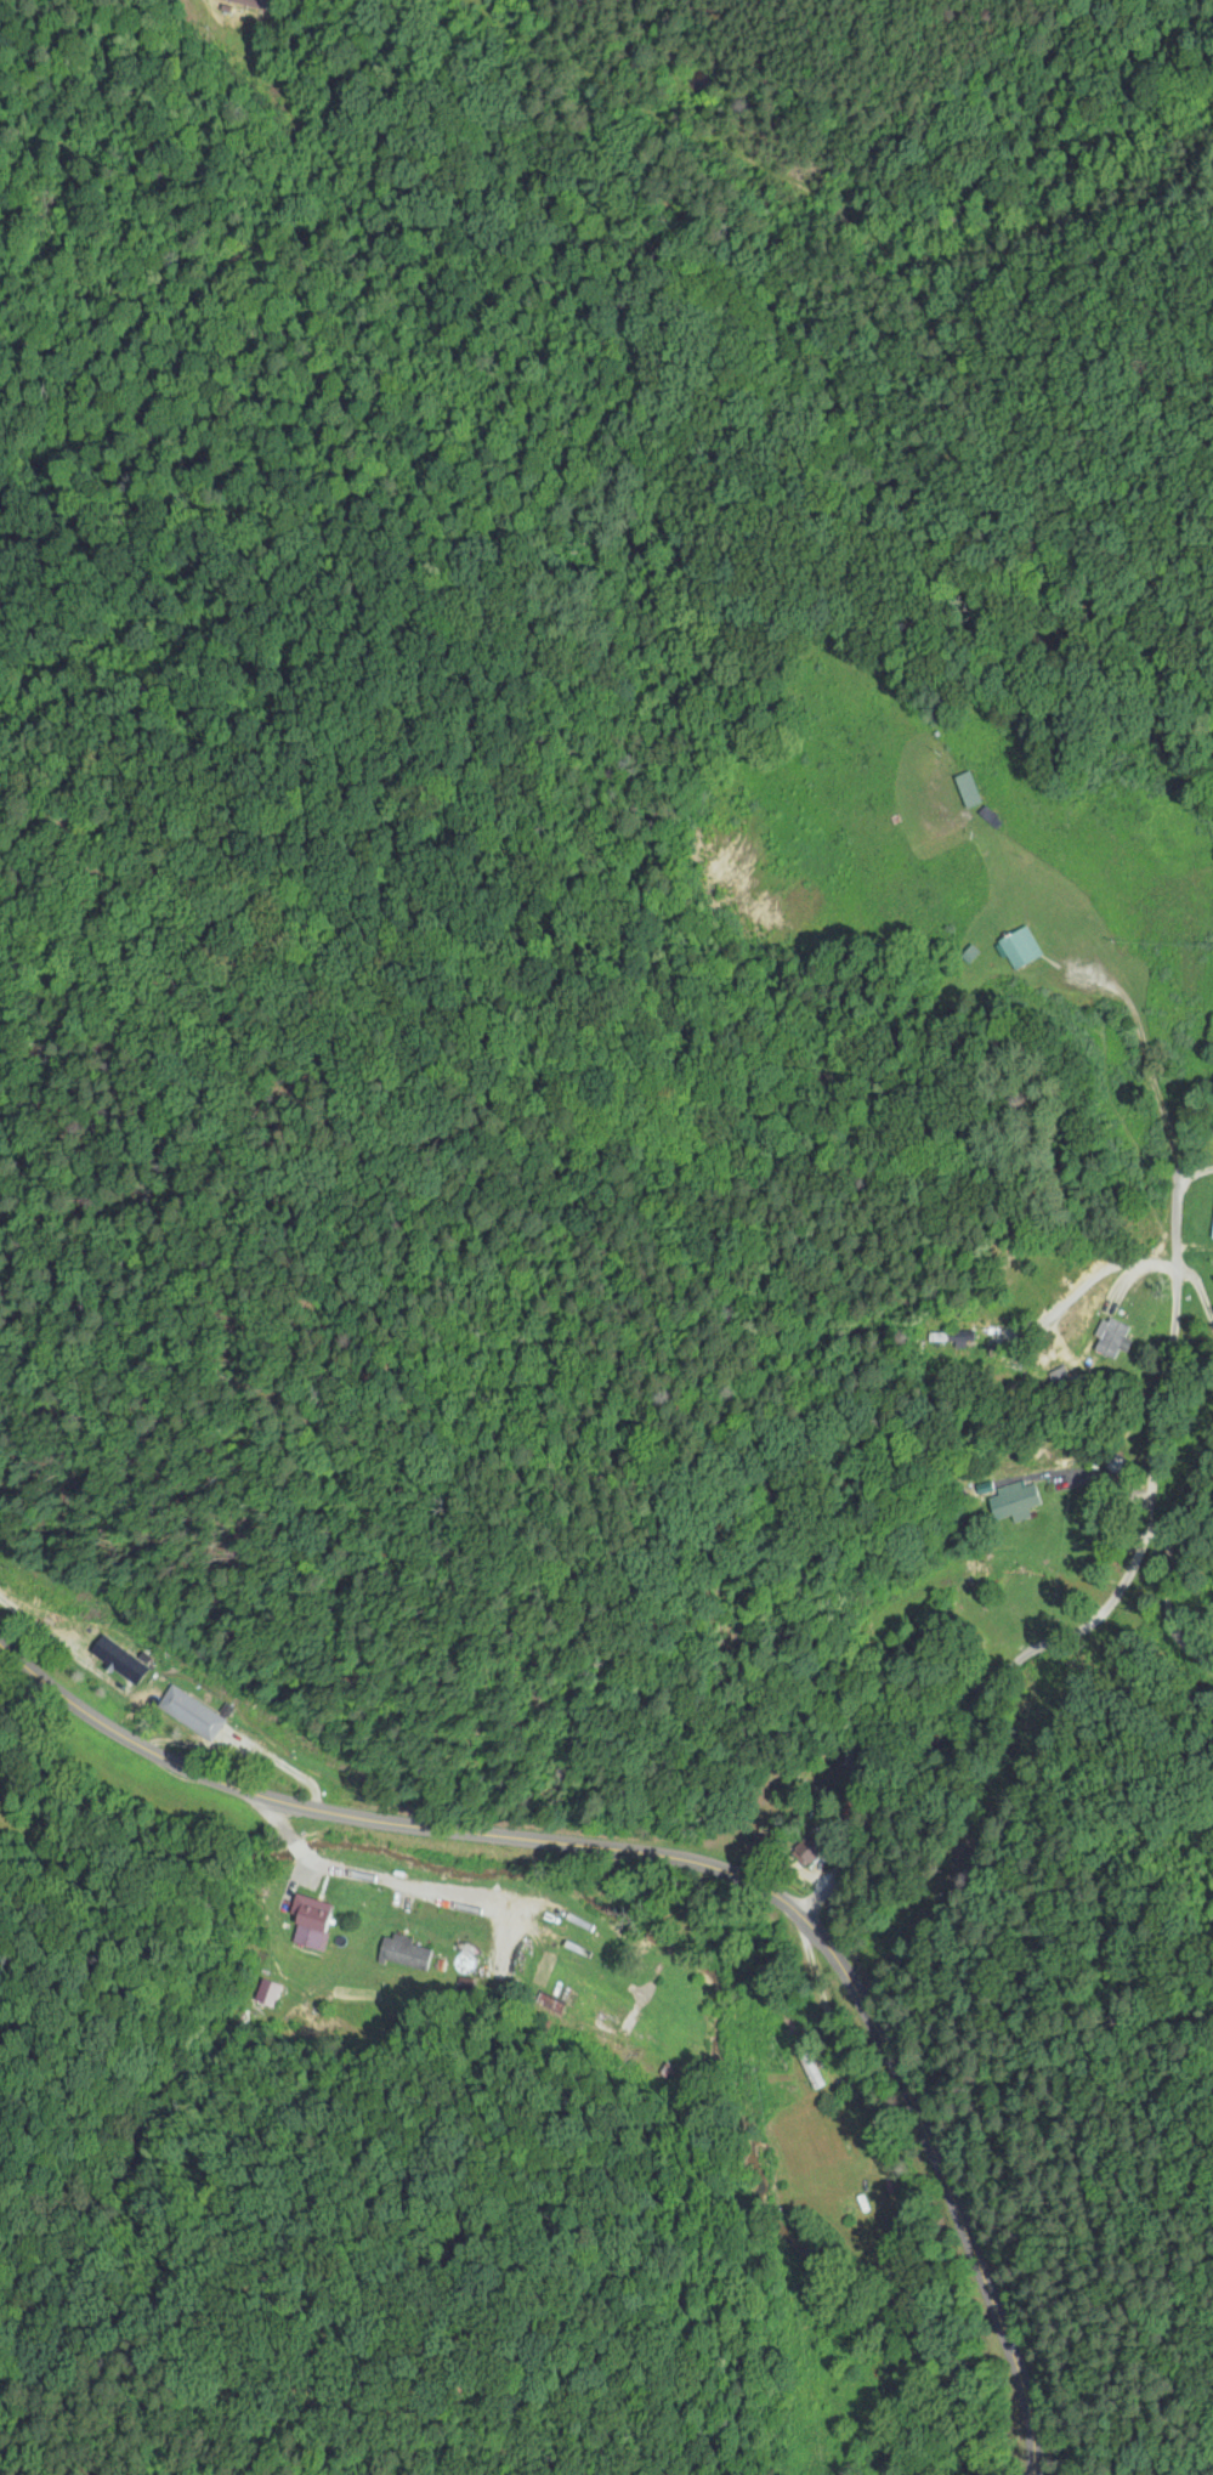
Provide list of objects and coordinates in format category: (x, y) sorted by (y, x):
building: (973, 789)
building: (1022, 948)
building: (1117, 1340)
road: (1151, 1499)
building: (1024, 1592)
building: (204, 1721)
road: (686, 1867)
road: (454, 1880)
building: (314, 1926)
building: (408, 1953)

